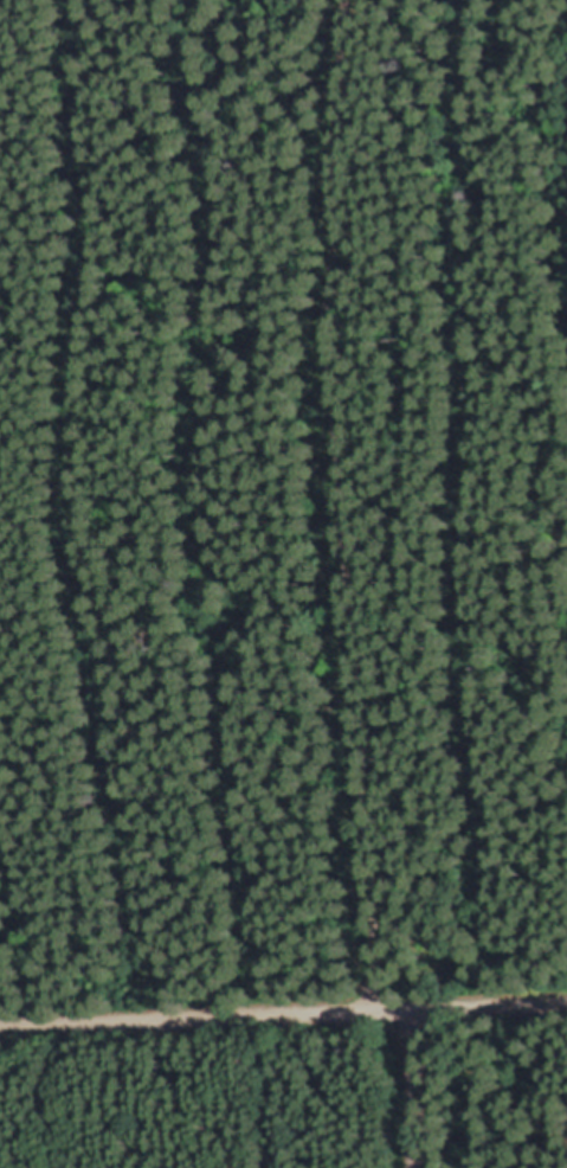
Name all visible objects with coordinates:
road: (339, 505)
road: (283, 1014)
road: (415, 1090)

